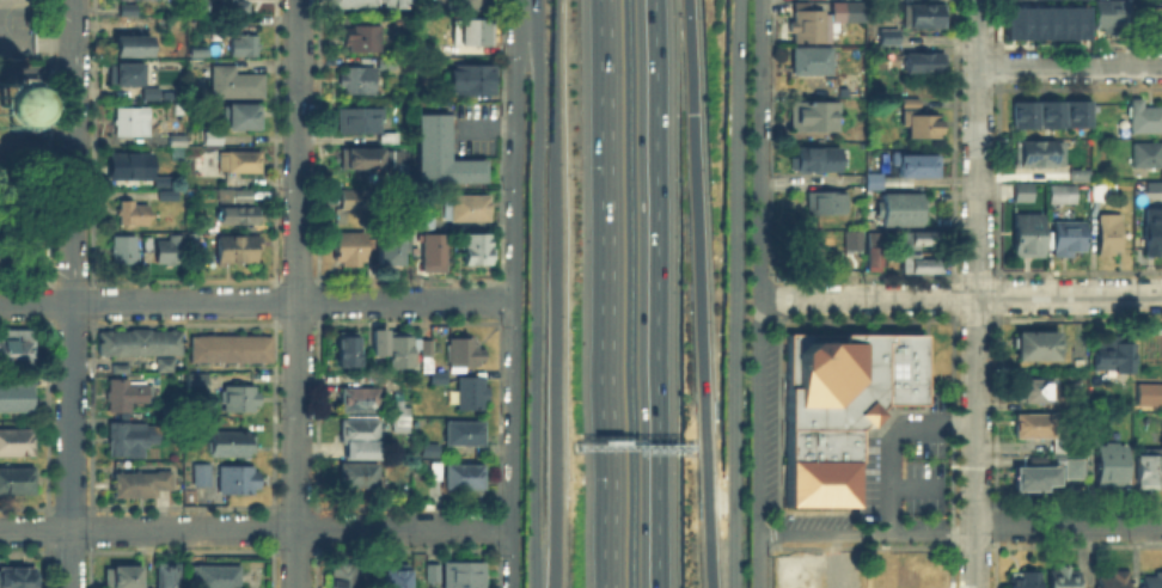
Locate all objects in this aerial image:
building: (372, 4)
building: (194, 5)
building: (465, 5)
building: (231, 6)
road: (604, 10)
building: (129, 11)
building: (857, 13)
building: (1111, 17)
building: (925, 18)
building: (1044, 22)
building: (405, 23)
building: (1151, 23)
building: (813, 27)
building: (473, 33)
building: (891, 38)
road: (33, 41)
building: (362, 41)
building: (134, 45)
building: (245, 47)
building: (813, 62)
building: (928, 65)
road: (1069, 67)
road: (36, 71)
building: (126, 76)
building: (475, 80)
building: (361, 81)
building: (27, 82)
building: (238, 85)
building: (152, 96)
building: (10, 103)
traffic signals: (695, 112)
building: (1021, 112)
building: (1048, 112)
building: (1075, 112)
building: (815, 117)
building: (245, 118)
building: (1146, 121)
building: (918, 122)
building: (134, 123)
building: (362, 123)
building: (30, 133)
building: (213, 139)
building: (179, 140)
road: (760, 147)
road: (37, 152)
road: (72, 152)
building: (444, 155)
building: (1041, 155)
building: (1149, 157)
building: (366, 159)
building: (819, 160)
building: (241, 163)
building: (130, 167)
park: (24, 169)
building: (916, 170)
building: (1077, 173)
building: (876, 183)
building: (1026, 194)
building: (1151, 195)
building: (167, 196)
building: (1064, 196)
building: (245, 197)
building: (361, 201)
building: (827, 204)
building: (469, 209)
building: (903, 212)
building: (135, 215)
building: (239, 216)
building: (424, 225)
building: (1154, 233)
building: (1028, 237)
building: (1109, 237)
building: (1068, 239)
building: (855, 241)
building: (921, 241)
building: (147, 244)
building: (477, 249)
building: (178, 250)
building: (351, 250)
building: (436, 250)
building: (807, 250)
building: (126, 251)
building: (397, 251)
building: (238, 252)
building: (874, 252)
building: (922, 267)
road: (37, 271)
road: (298, 293)
road: (512, 293)
road: (533, 293)
road: (652, 293)
road: (699, 293)
road: (976, 293)
road: (556, 294)
road: (738, 294)
road: (961, 296)
road: (292, 301)
road: (36, 304)
road: (608, 304)
building: (375, 341)
building: (423, 345)
building: (143, 347)
building: (1040, 347)
building: (396, 348)
building: (343, 349)
building: (233, 350)
building: (17, 354)
building: (465, 354)
building: (1115, 355)
building: (440, 379)
building: (196, 385)
building: (1036, 391)
building: (1148, 392)
building: (129, 396)
building: (472, 396)
building: (17, 399)
building: (241, 400)
building: (361, 402)
building: (842, 409)
road: (757, 415)
building: (403, 418)
road: (905, 425)
building: (362, 433)
building: (465, 434)
building: (1047, 434)
building: (132, 440)
building: (18, 443)
road: (69, 445)
building: (234, 446)
building: (430, 452)
building: (1112, 467)
building: (1076, 471)
building: (1150, 472)
building: (203, 477)
building: (458, 477)
building: (1033, 477)
building: (360, 478)
building: (239, 482)
building: (18, 483)
building: (141, 485)
road: (911, 486)
road: (887, 510)
road: (1069, 523)
road: (256, 527)
road: (867, 535)
road: (754, 562)
building: (429, 571)
building: (460, 574)
building: (165, 575)
building: (212, 575)
building: (343, 577)
building: (397, 577)
building: (1025, 577)
building: (17, 578)
building: (123, 578)
building: (1065, 580)
building: (1114, 580)
building: (1154, 581)

